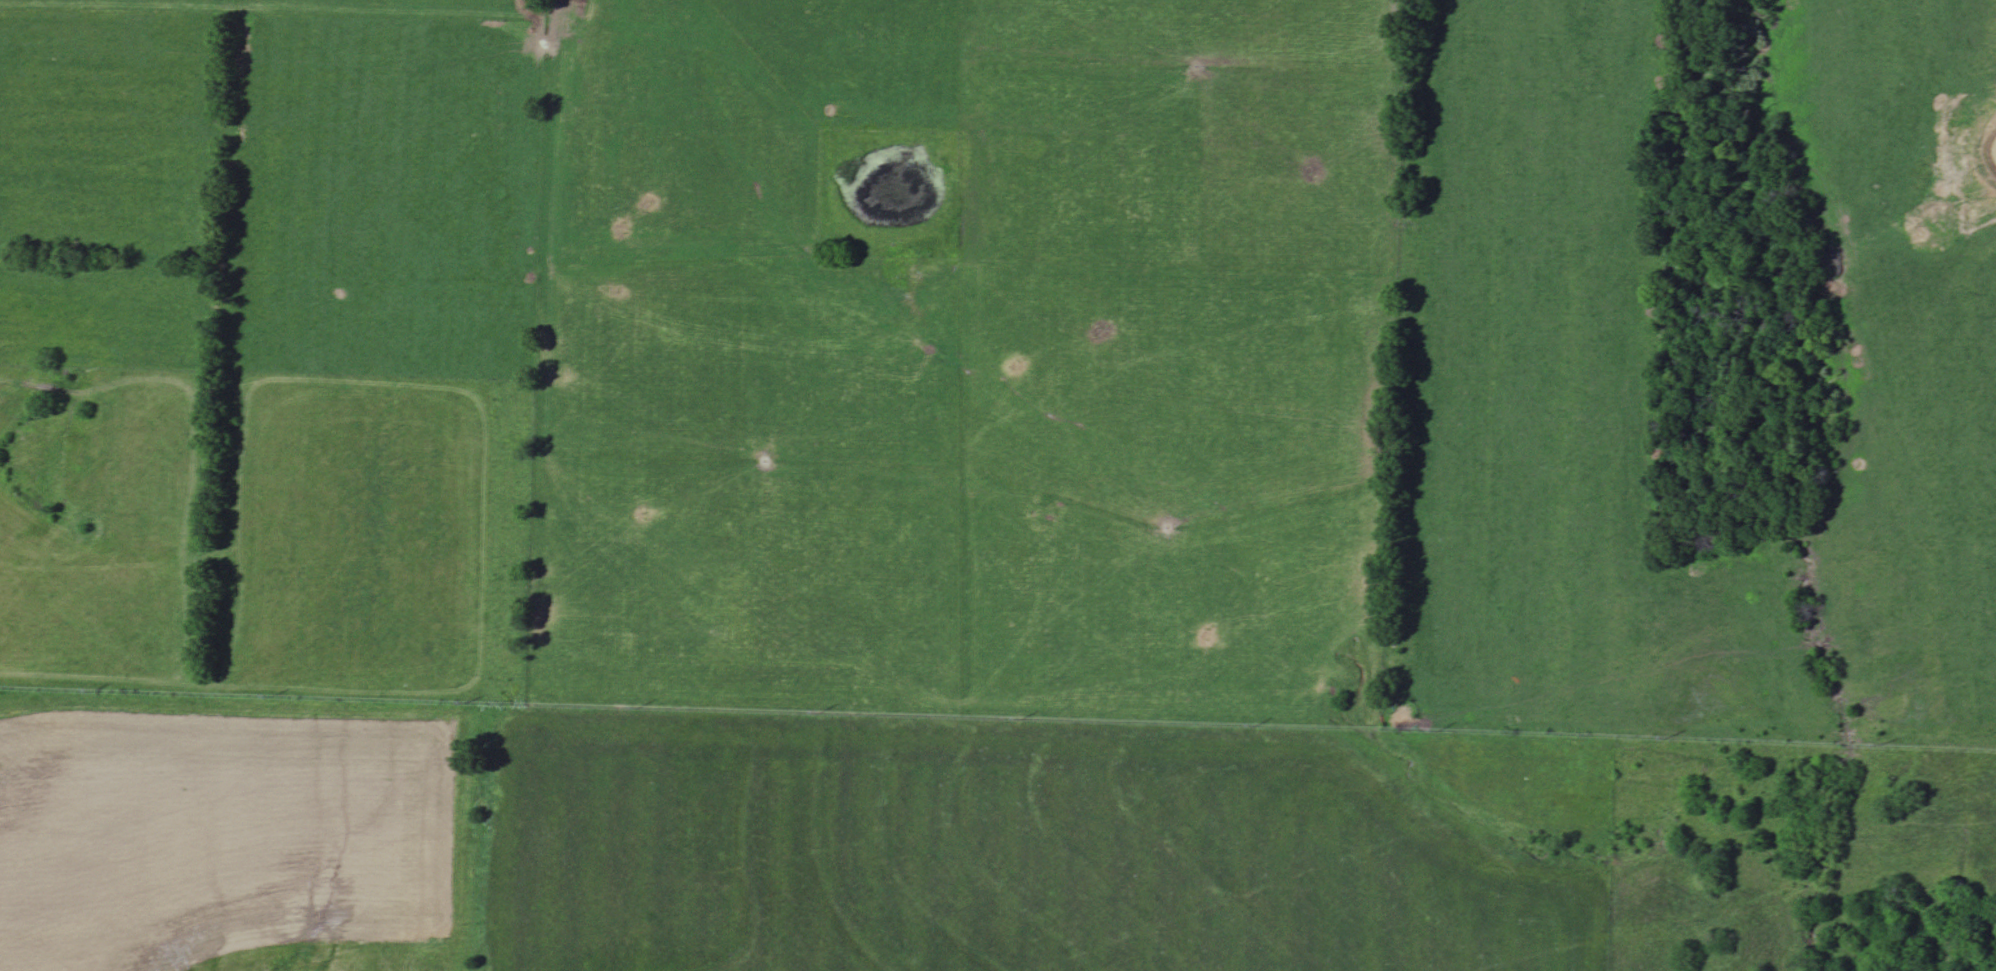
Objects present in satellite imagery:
crop: (224, 827)

